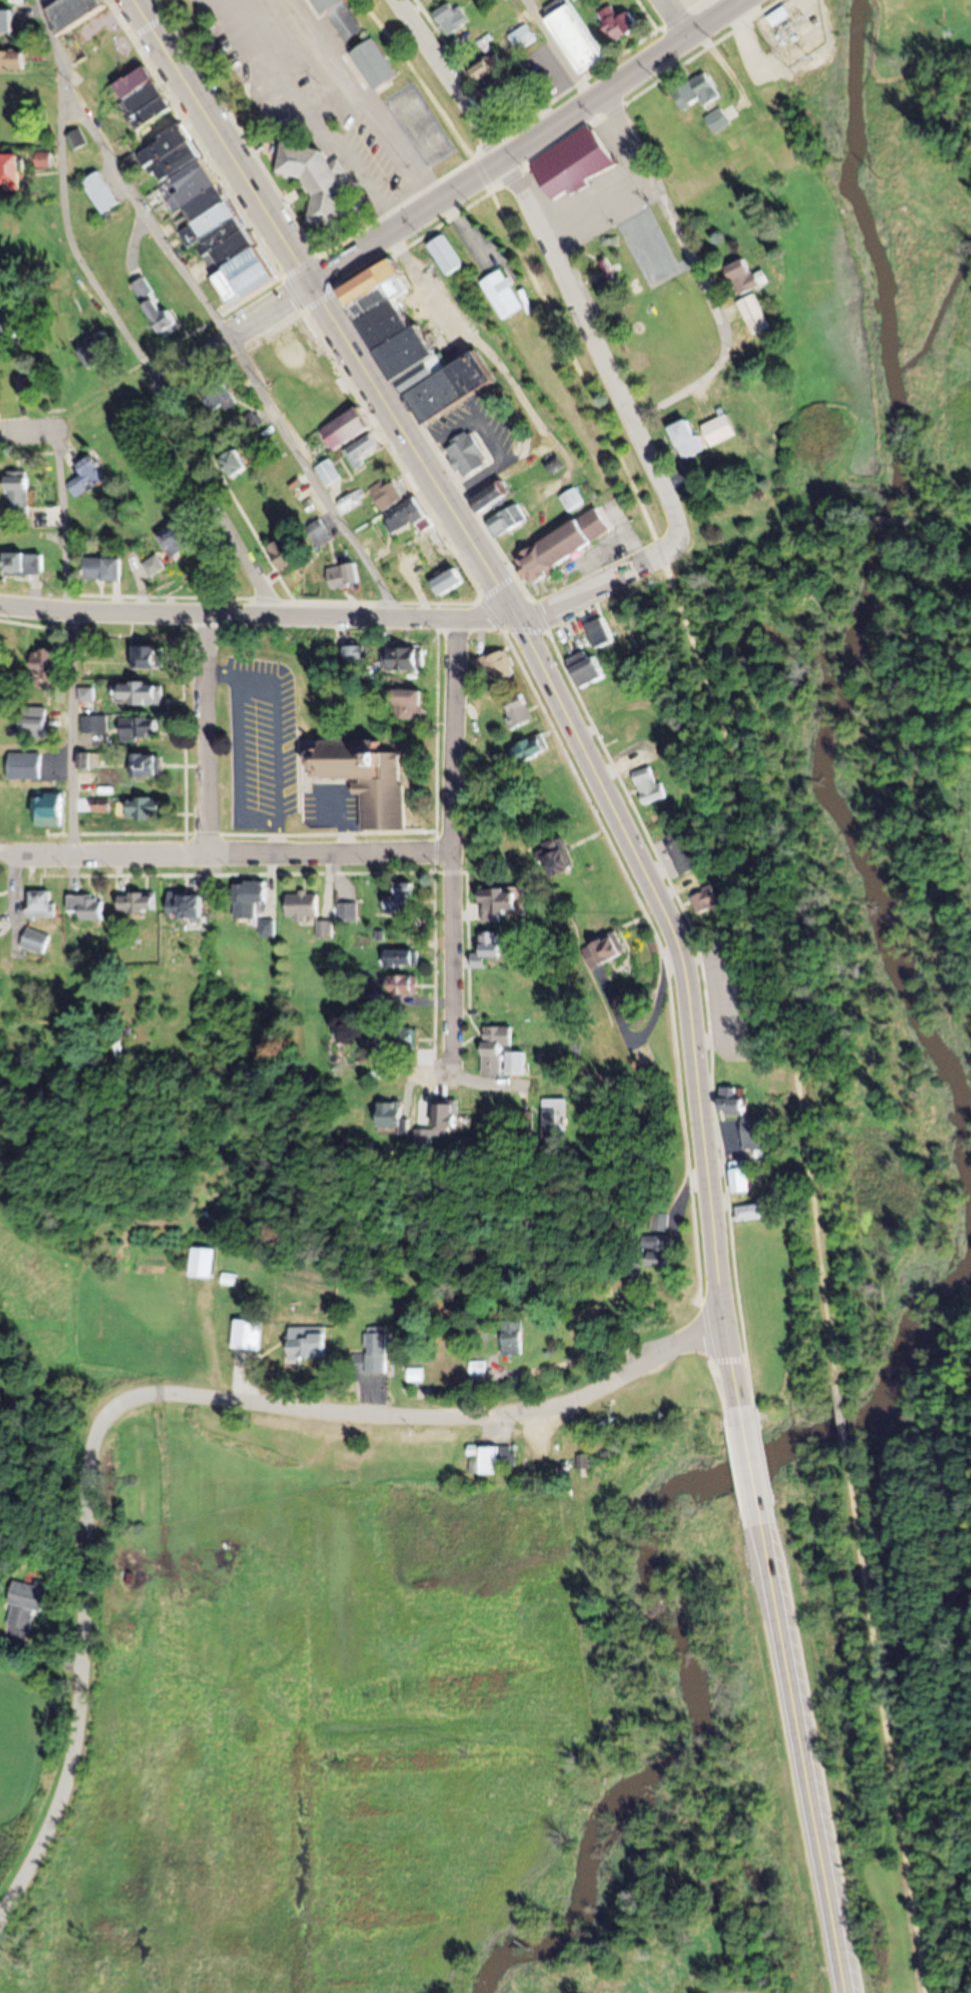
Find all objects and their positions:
building: (73, 13)
building: (780, 17)
building: (452, 19)
building: (339, 20)
road: (673, 20)
building: (7, 23)
building: (619, 25)
power substation: (797, 29)
building: (523, 38)
building: (574, 38)
road: (560, 50)
building: (12, 62)
building: (375, 66)
road: (628, 77)
building: (492, 78)
road: (450, 81)
building: (7, 91)
building: (697, 93)
building: (718, 122)
building: (8, 130)
building: (77, 139)
building: (170, 153)
building: (43, 160)
building: (572, 164)
building: (10, 171)
building: (317, 182)
building: (101, 193)
road: (65, 199)
road: (411, 220)
road: (674, 222)
building: (446, 255)
building: (746, 277)
building: (244, 279)
building: (503, 295)
road: (322, 303)
building: (154, 308)
building: (755, 314)
building: (8, 327)
road: (473, 332)
road: (231, 344)
road: (598, 345)
building: (408, 350)
building: (96, 352)
building: (287, 361)
road: (161, 375)
building: (418, 376)
building: (452, 386)
building: (218, 395)
road: (685, 395)
building: (347, 428)
building: (721, 430)
building: (688, 439)
building: (362, 450)
building: (468, 456)
building: (233, 461)
building: (331, 473)
building: (89, 477)
building: (17, 490)
building: (388, 495)
building: (491, 497)
road: (210, 498)
building: (350, 504)
building: (409, 517)
building: (508, 521)
building: (318, 534)
building: (177, 540)
building: (562, 546)
building: (284, 556)
building: (23, 564)
building: (104, 569)
building: (344, 576)
building: (447, 581)
road: (606, 584)
river: (869, 592)
road: (227, 614)
road: (519, 615)
road: (485, 616)
building: (600, 632)
road: (70, 641)
building: (357, 655)
building: (150, 656)
building: (406, 658)
road: (701, 659)
building: (43, 665)
building: (498, 667)
building: (585, 668)
building: (142, 692)
building: (408, 702)
building: (520, 710)
building: (33, 721)
building: (141, 727)
building: (630, 730)
road: (206, 734)
building: (532, 748)
building: (346, 759)
building: (149, 764)
building: (24, 765)
building: (650, 786)
building: (143, 807)
building: (48, 808)
road: (454, 849)
building: (683, 853)
road: (226, 855)
building: (559, 856)
building: (249, 898)
building: (402, 899)
building: (708, 901)
building: (138, 902)
building: (506, 902)
building: (42, 903)
building: (303, 905)
building: (86, 907)
building: (190, 911)
building: (349, 912)
building: (326, 929)
building: (36, 941)
building: (490, 947)
building: (608, 949)
building: (403, 957)
building: (404, 984)
building: (497, 993)
road: (690, 1007)
building: (400, 1038)
building: (496, 1049)
building: (734, 1100)
building: (446, 1114)
building: (392, 1117)
building: (555, 1118)
building: (526, 1120)
building: (755, 1133)
building: (742, 1176)
building: (752, 1212)
building: (660, 1222)
building: (658, 1249)
building: (201, 1262)
building: (246, 1335)
building: (510, 1337)
building: (306, 1342)
building: (371, 1353)
building: (476, 1371)
road: (162, 1395)
road: (843, 1415)
building: (491, 1459)
road: (752, 1474)
river: (673, 1587)
building: (25, 1606)
road: (885, 1718)
road: (802, 1759)

